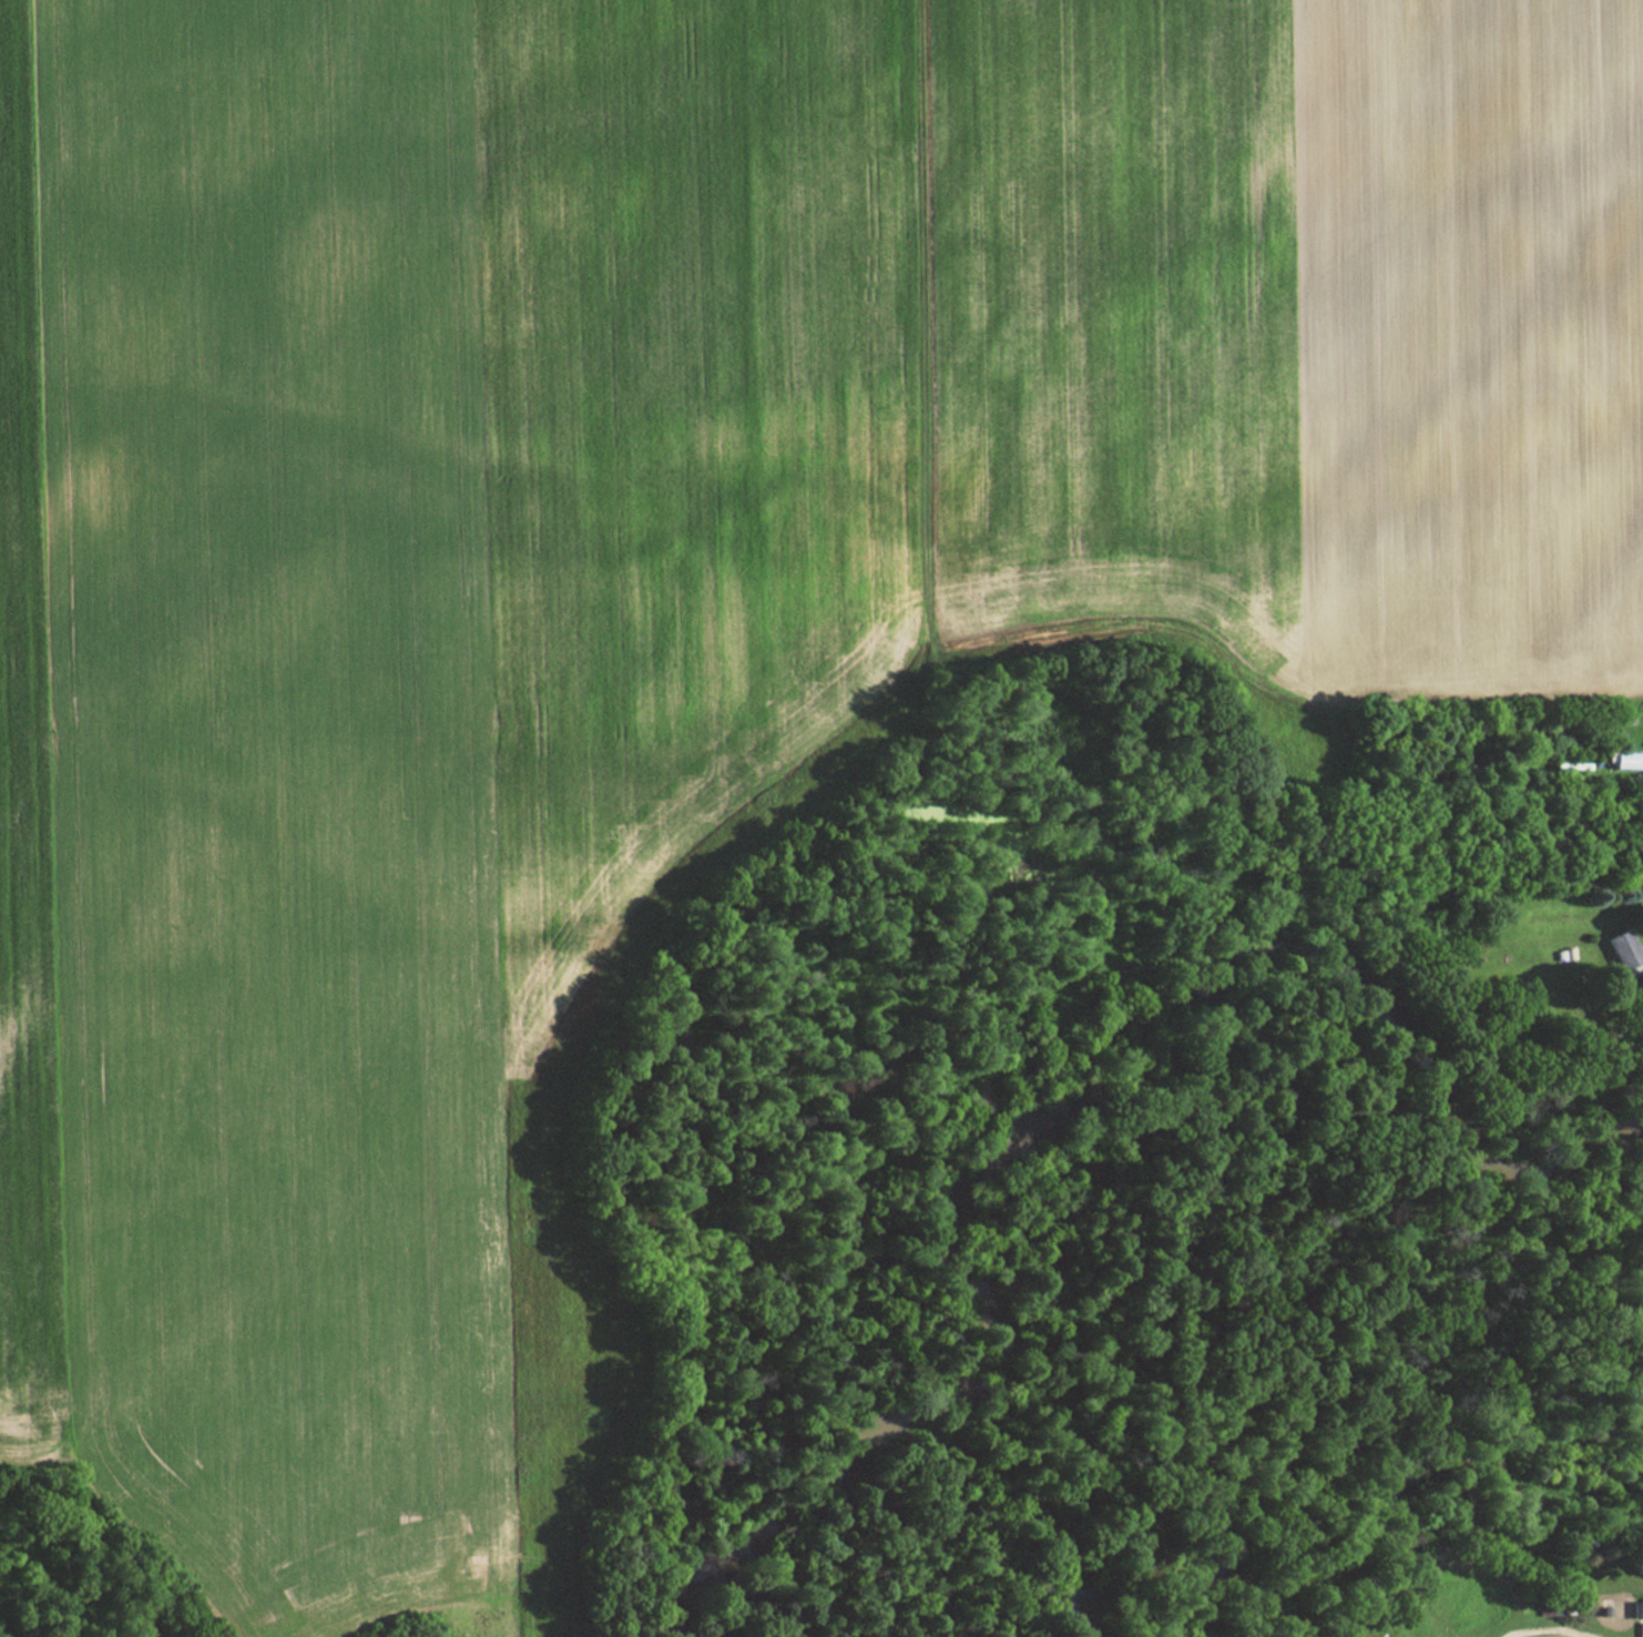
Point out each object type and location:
crop: (682, 603)
building: (1626, 761)
crop: (19, 861)
building: (1622, 953)

